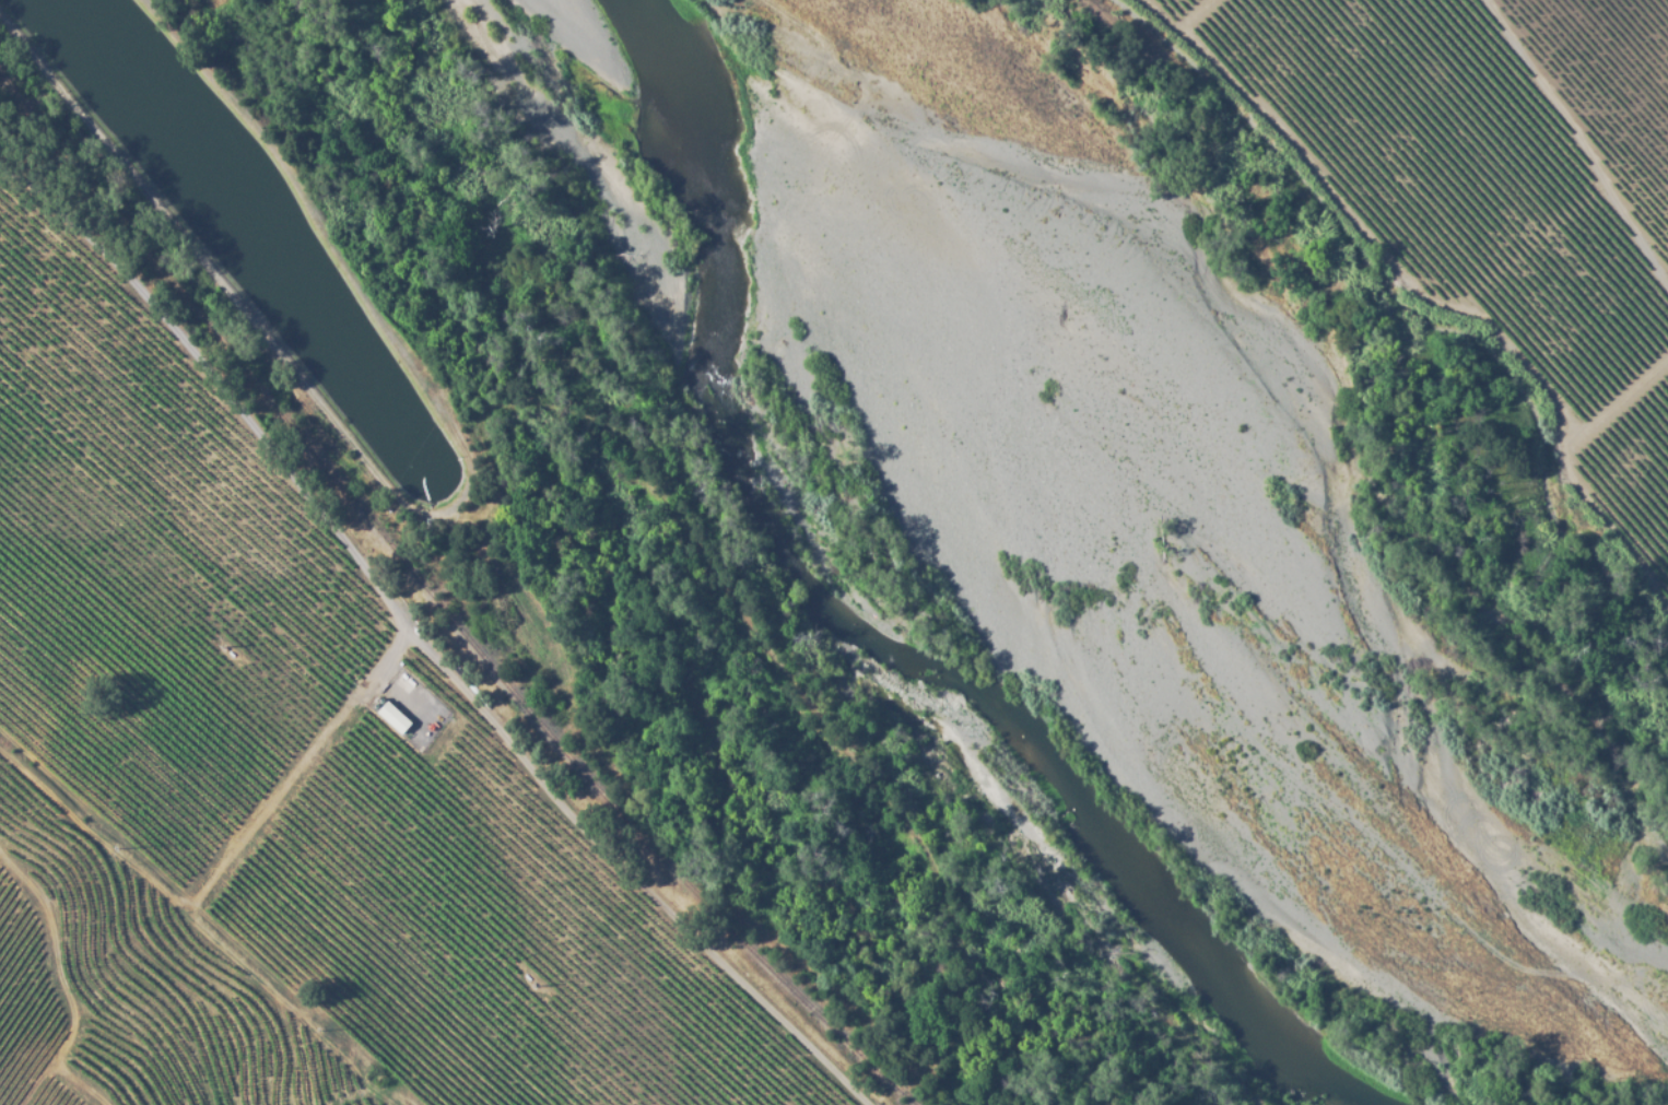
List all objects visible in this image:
railway: (442, 603)
river: (845, 608)
building: (396, 718)

